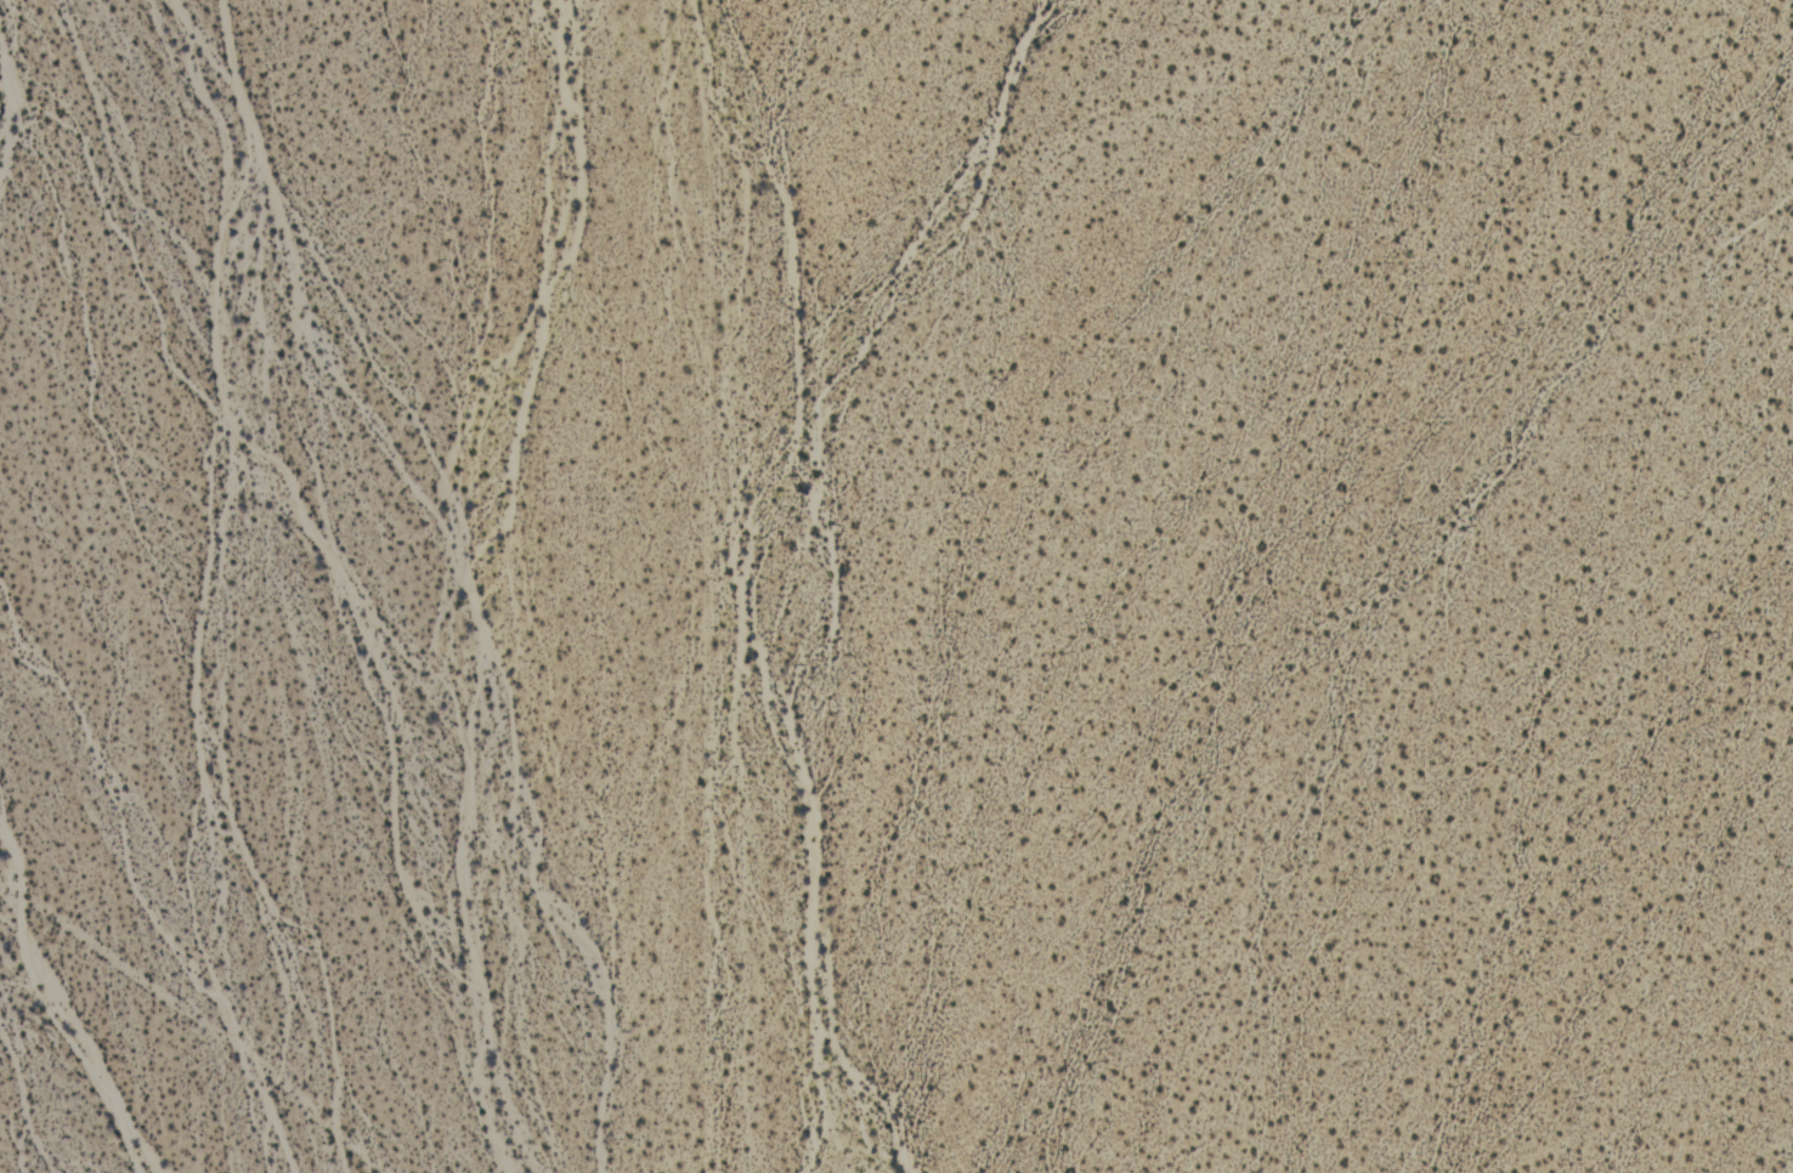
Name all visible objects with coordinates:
road: (200, 1024)

